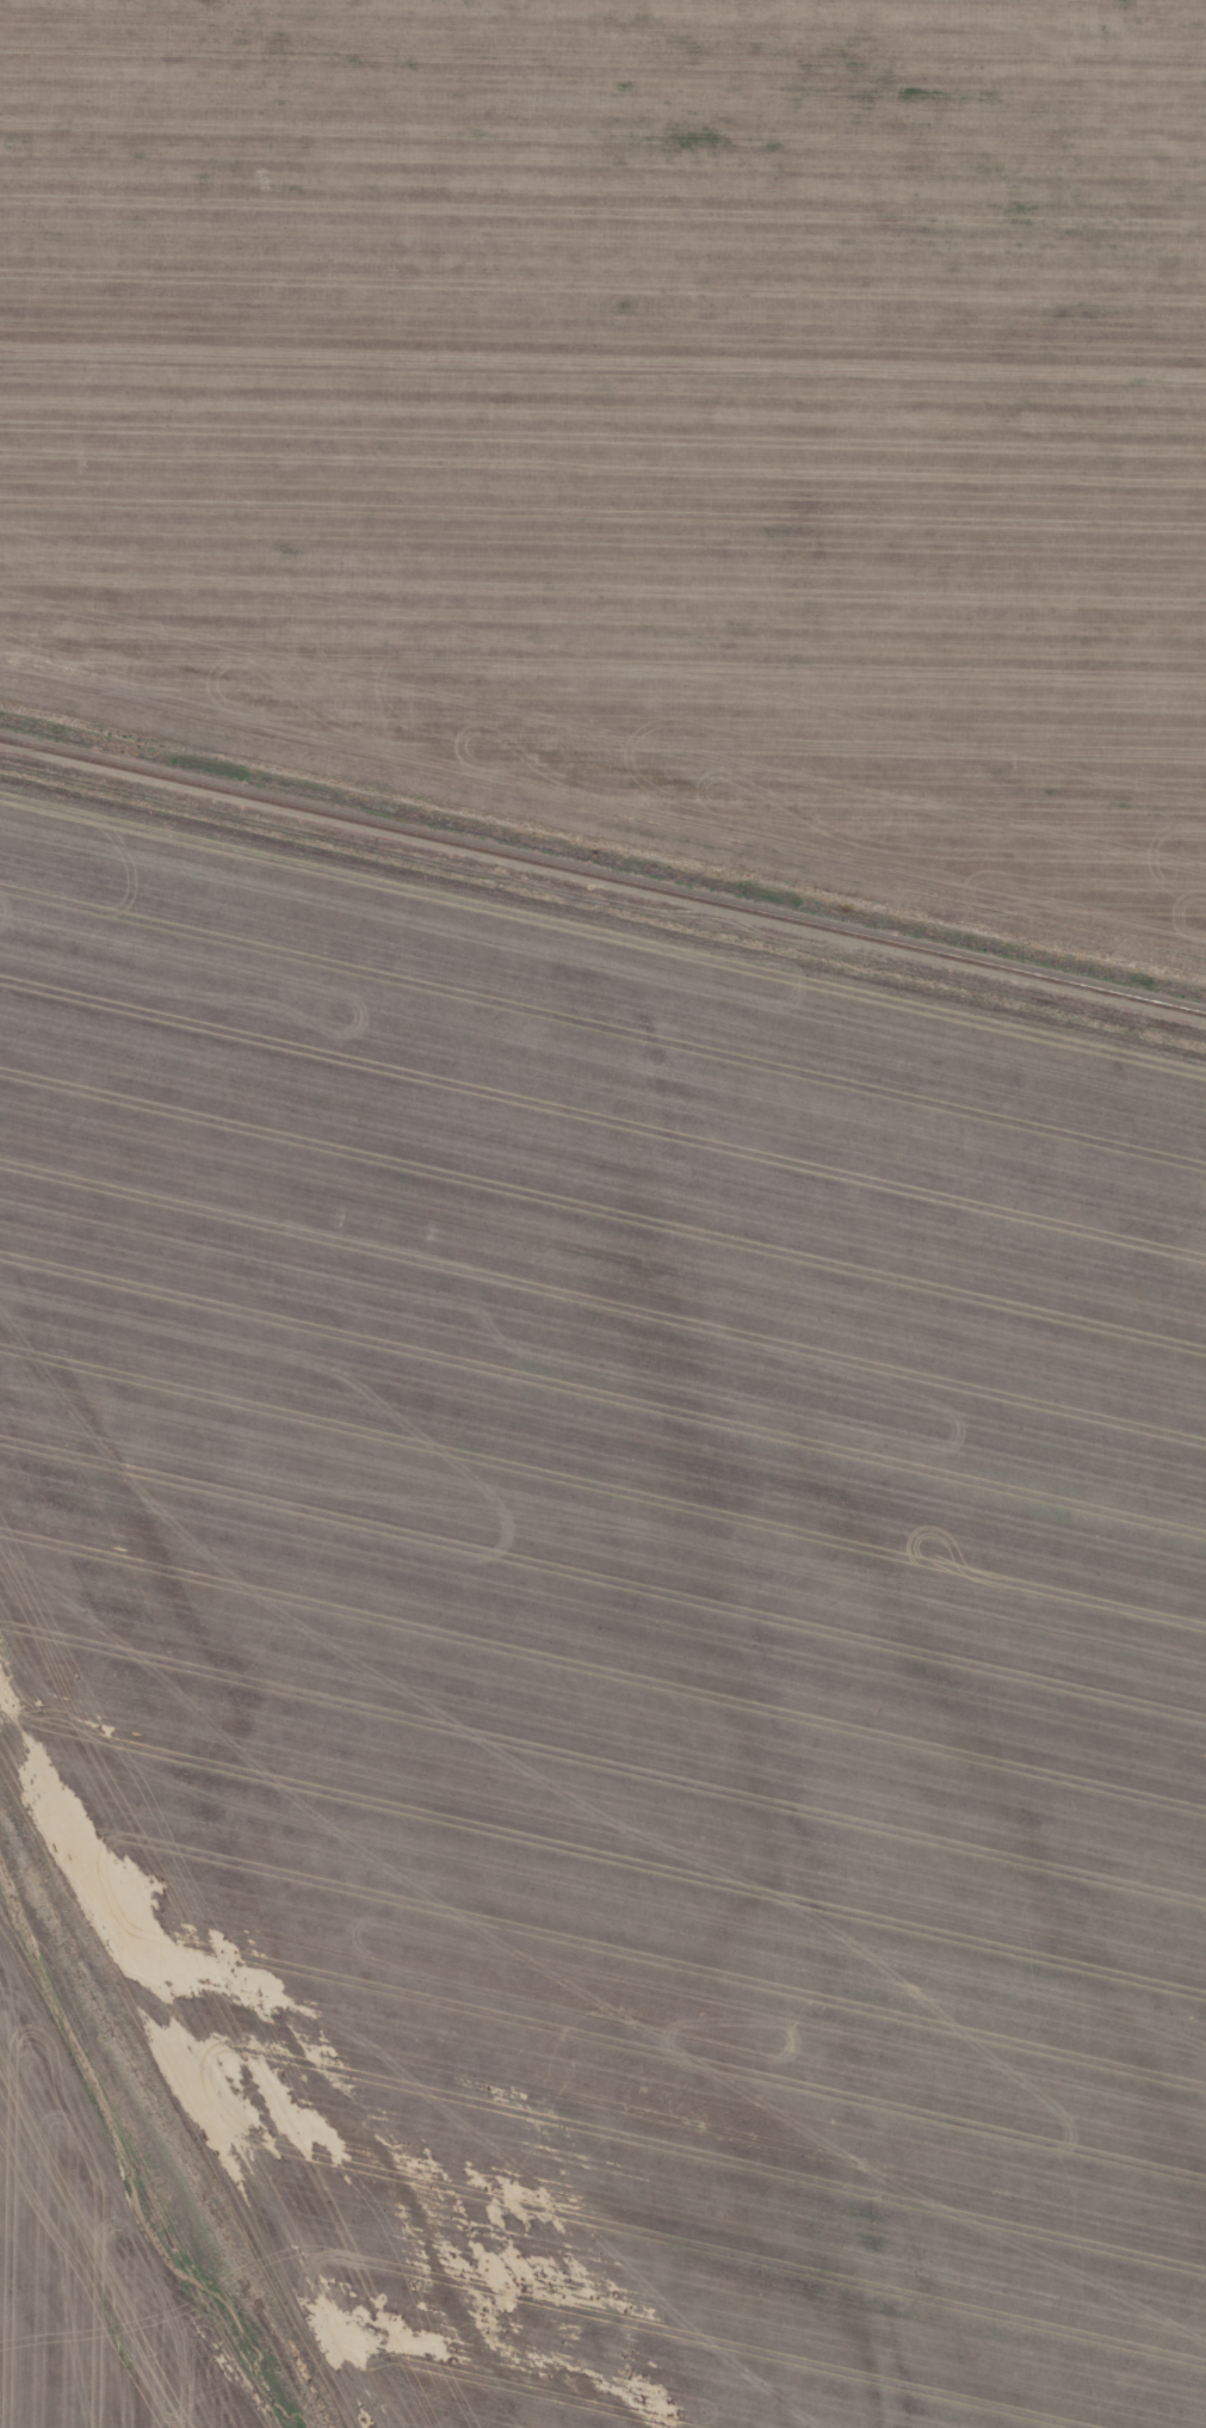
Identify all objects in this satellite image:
railway: (602, 877)

